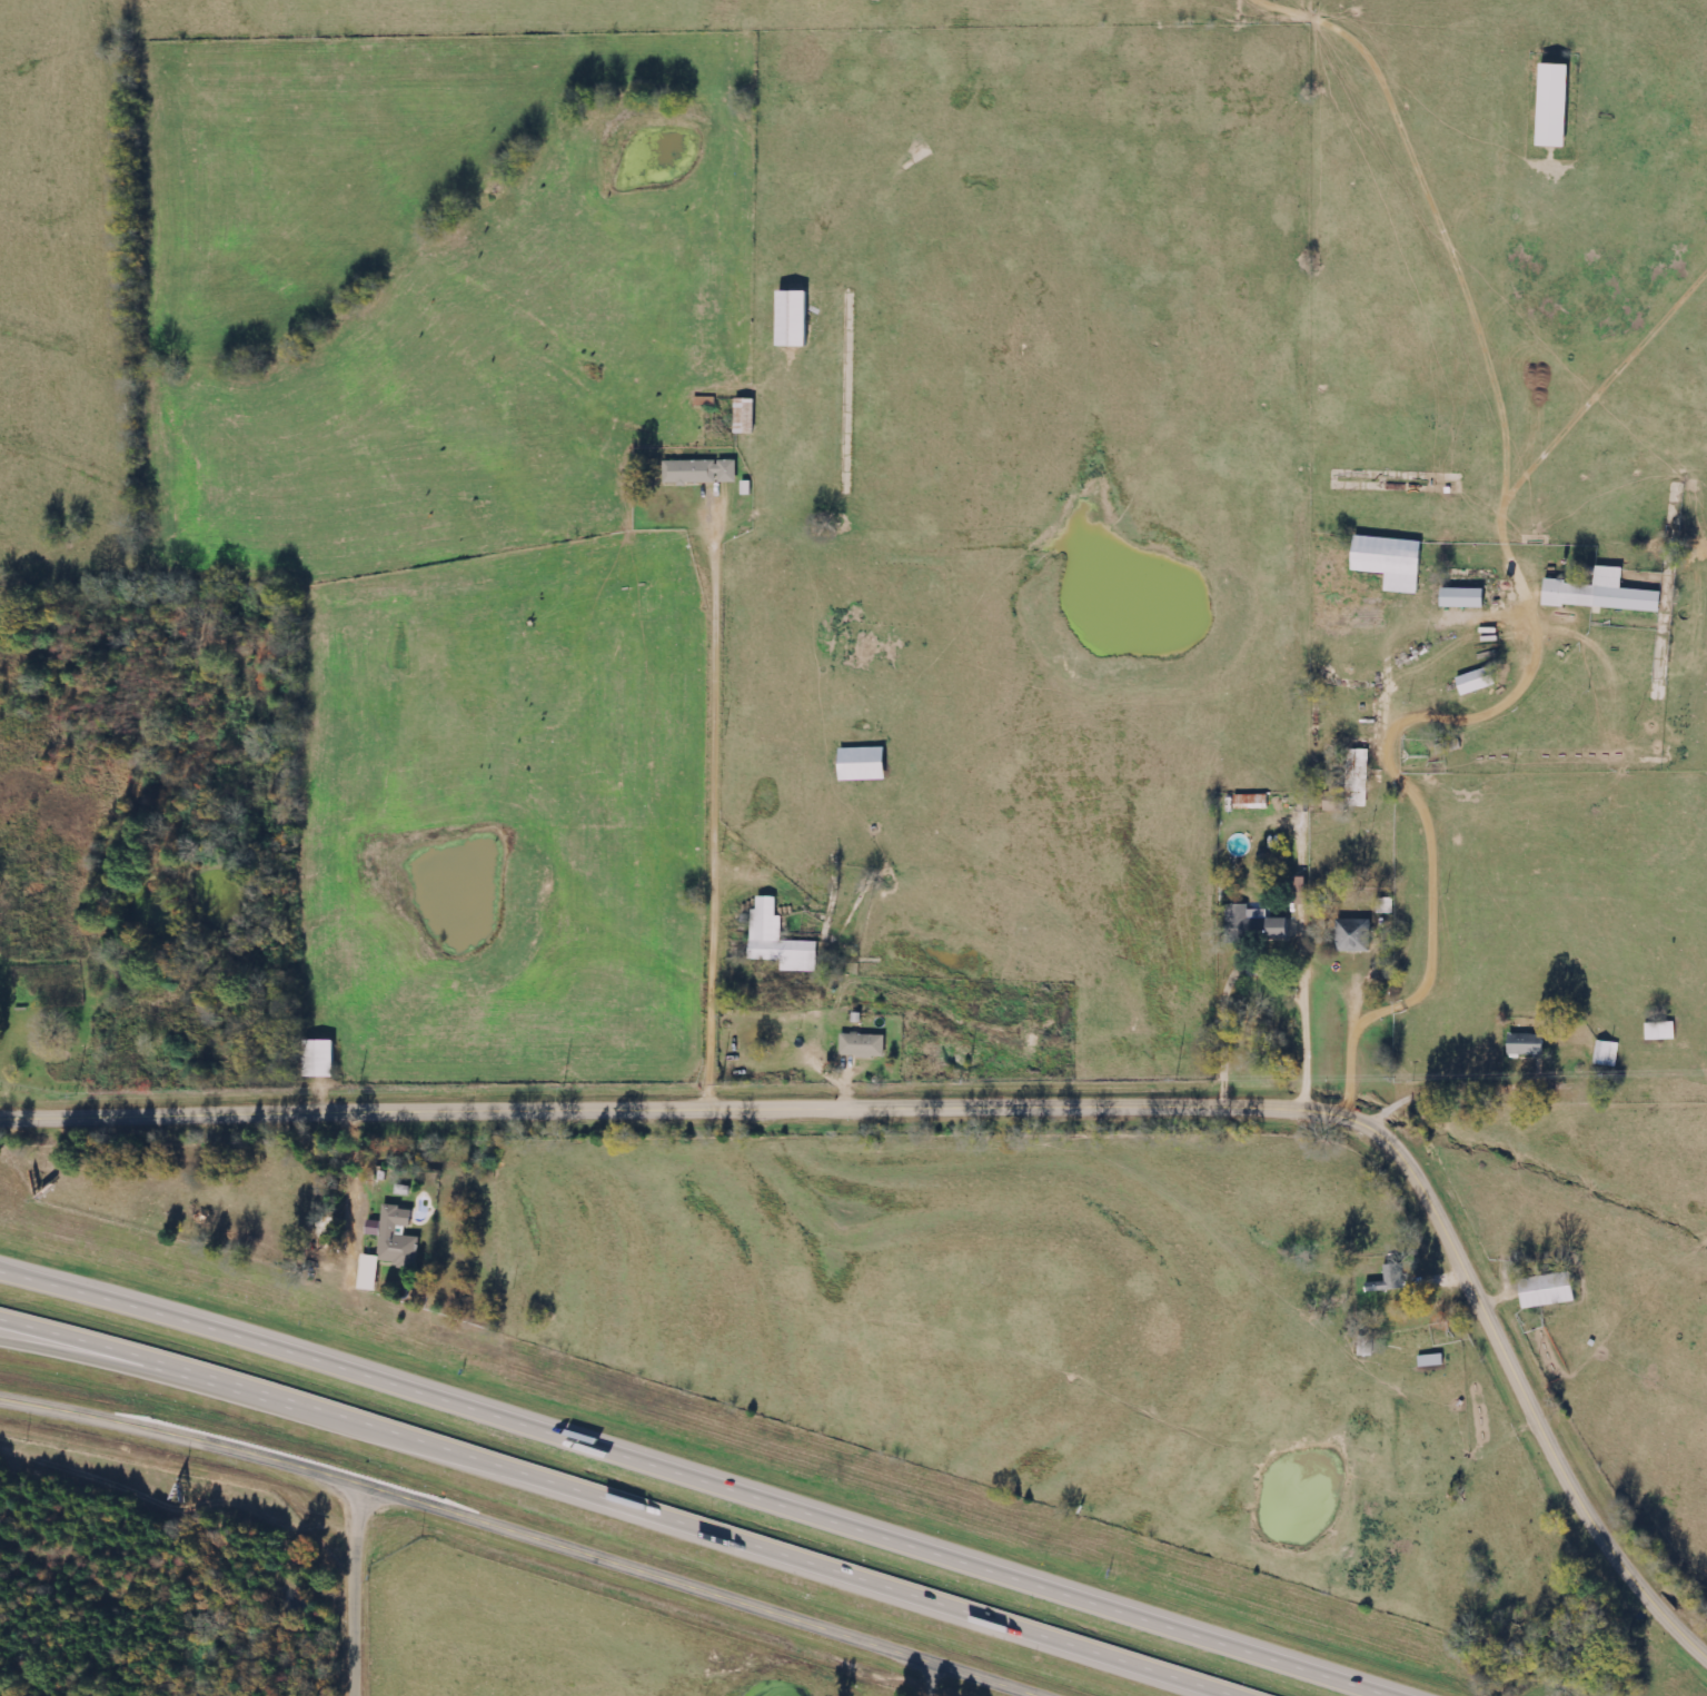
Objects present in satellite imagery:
building: (1554, 105)
building: (792, 318)
building: (745, 416)
building: (702, 472)
building: (1390, 561)
building: (1602, 593)
building: (1463, 597)
building: (1477, 681)
building: (863, 764)
building: (1352, 782)
building: (1252, 801)
building: (1301, 891)
building: (1258, 923)
building: (1357, 932)
building: (780, 941)
road: (1274, 950)
building: (1661, 1031)
building: (1526, 1044)
building: (864, 1045)
building: (320, 1059)
road: (1004, 1108)
road: (347, 1186)
building: (390, 1246)
road: (46, 1278)
building: (1390, 1280)
building: (1544, 1289)
road: (147, 1368)
road: (708, 1478)
road: (627, 1501)
road: (529, 1533)
road: (365, 1589)

